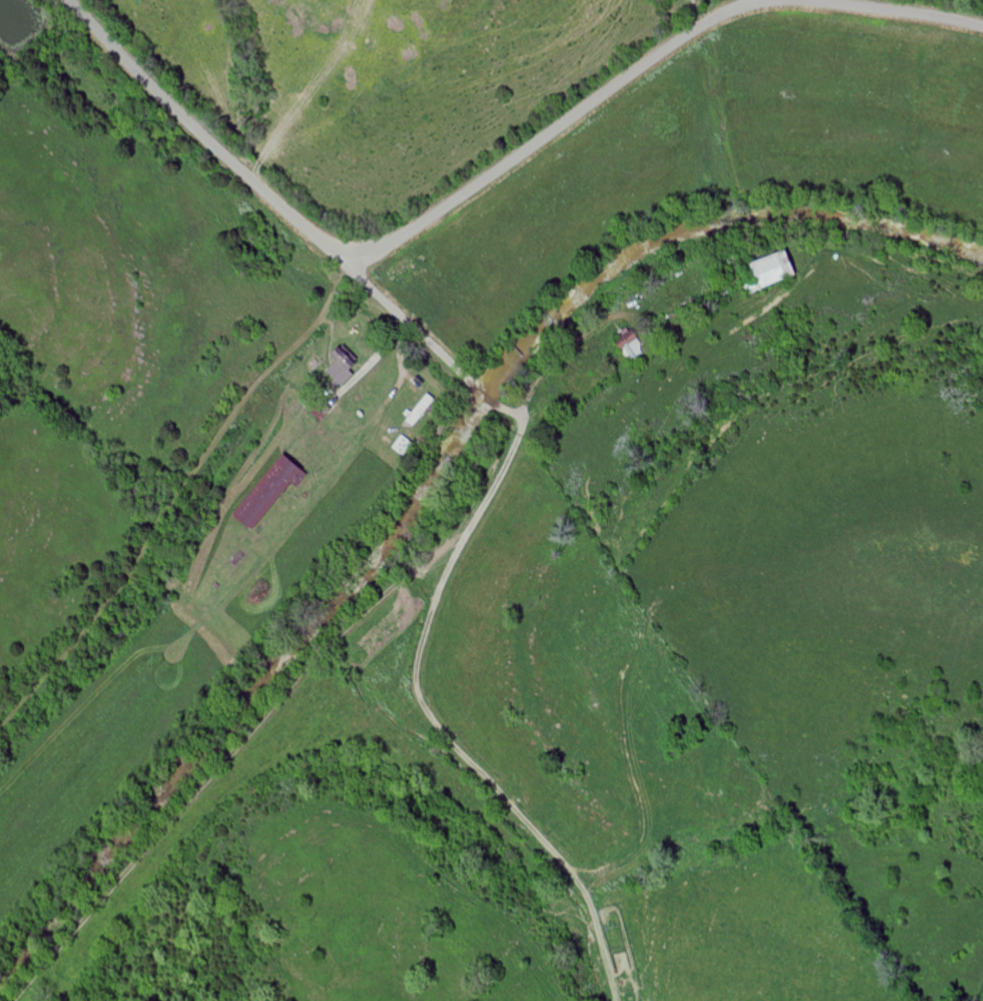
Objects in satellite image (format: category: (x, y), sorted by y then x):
road: (494, 174)
building: (776, 269)
building: (632, 346)
building: (344, 366)
building: (404, 445)
building: (271, 492)
road: (425, 610)

